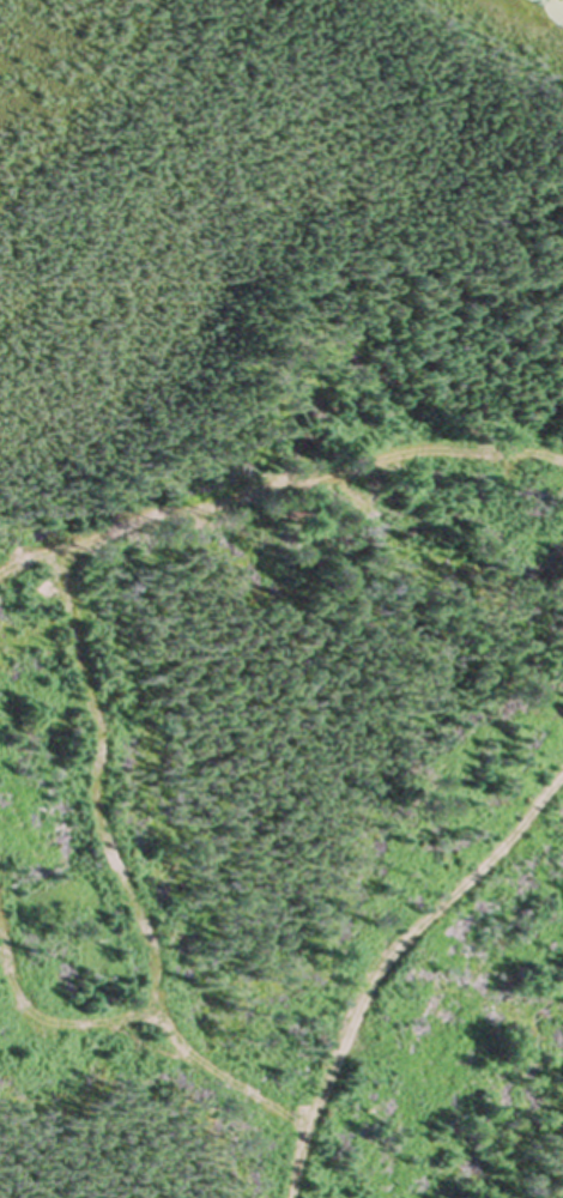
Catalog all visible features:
road: (343, 930)

